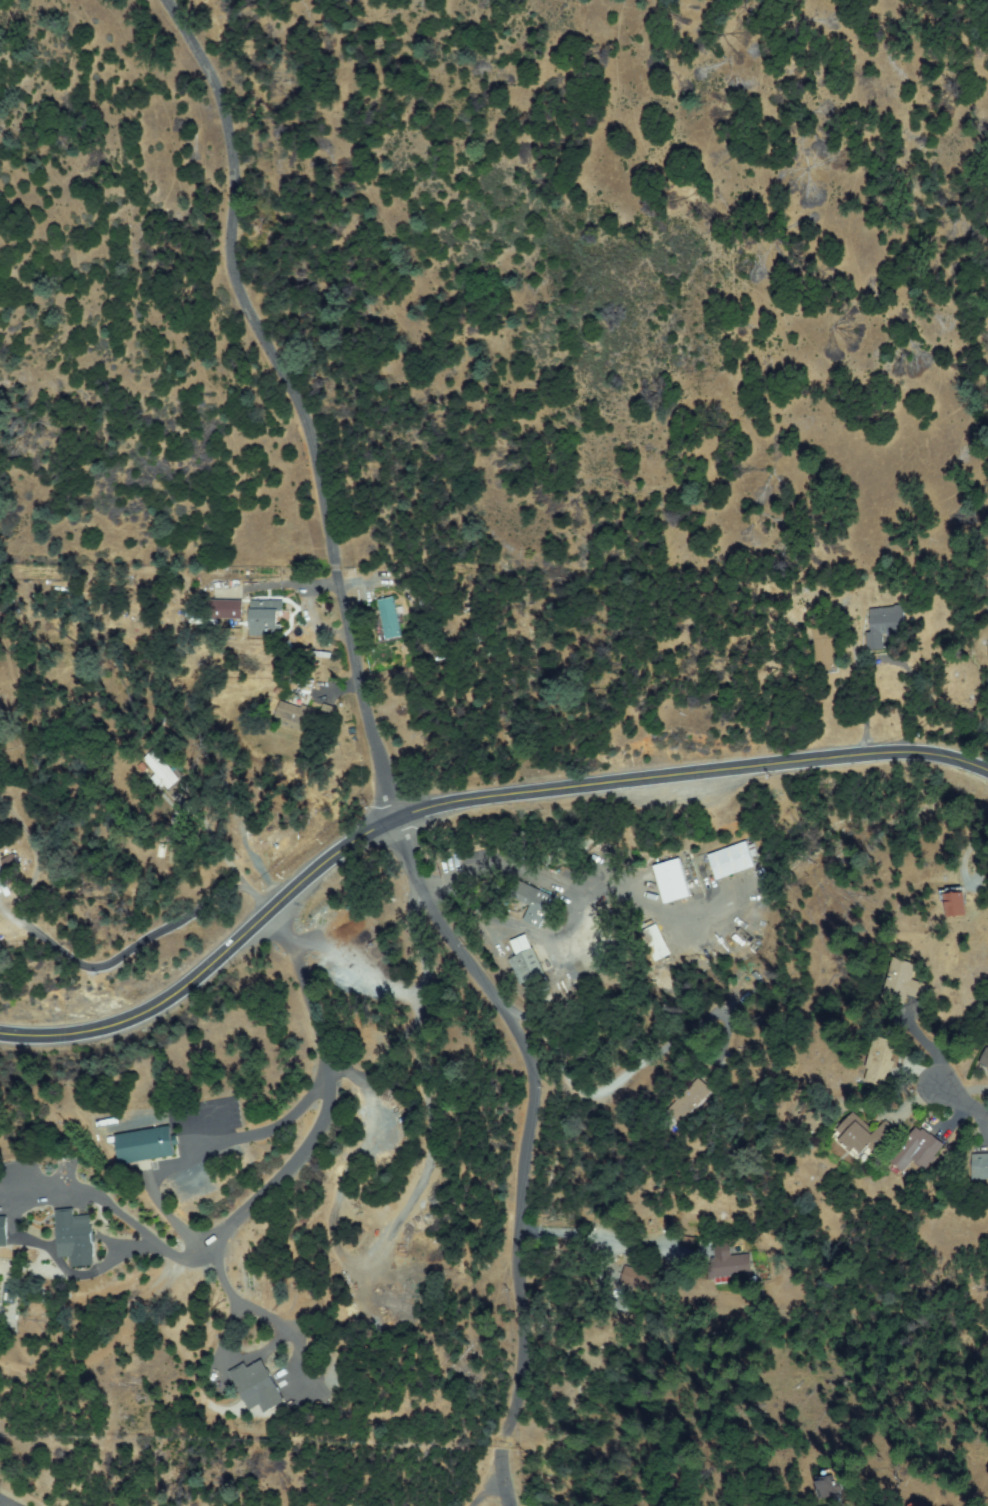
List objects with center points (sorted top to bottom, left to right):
building: (208, 589)
building: (228, 609)
building: (266, 618)
building: (381, 618)
building: (391, 618)
building: (205, 622)
building: (886, 623)
building: (824, 646)
road: (365, 698)
building: (186, 699)
building: (330, 714)
building: (297, 717)
building: (161, 767)
building: (224, 784)
road: (457, 799)
building: (179, 854)
building: (731, 860)
building: (13, 866)
building: (6, 871)
building: (673, 880)
road: (199, 891)
building: (954, 901)
building: (534, 902)
building: (656, 942)
building: (647, 943)
building: (523, 945)
building: (526, 966)
building: (903, 981)
road: (379, 1043)
building: (879, 1059)
building: (986, 1062)
building: (708, 1072)
building: (858, 1073)
building: (688, 1099)
building: (669, 1101)
road: (963, 1103)
building: (809, 1124)
building: (863, 1136)
building: (148, 1144)
building: (918, 1150)
building: (982, 1166)
building: (4, 1231)
building: (77, 1237)
building: (725, 1264)
building: (632, 1276)
building: (10, 1292)
building: (259, 1385)
road: (498, 1448)
road: (487, 1477)
building: (831, 1487)
building: (814, 1488)
building: (911, 1505)

